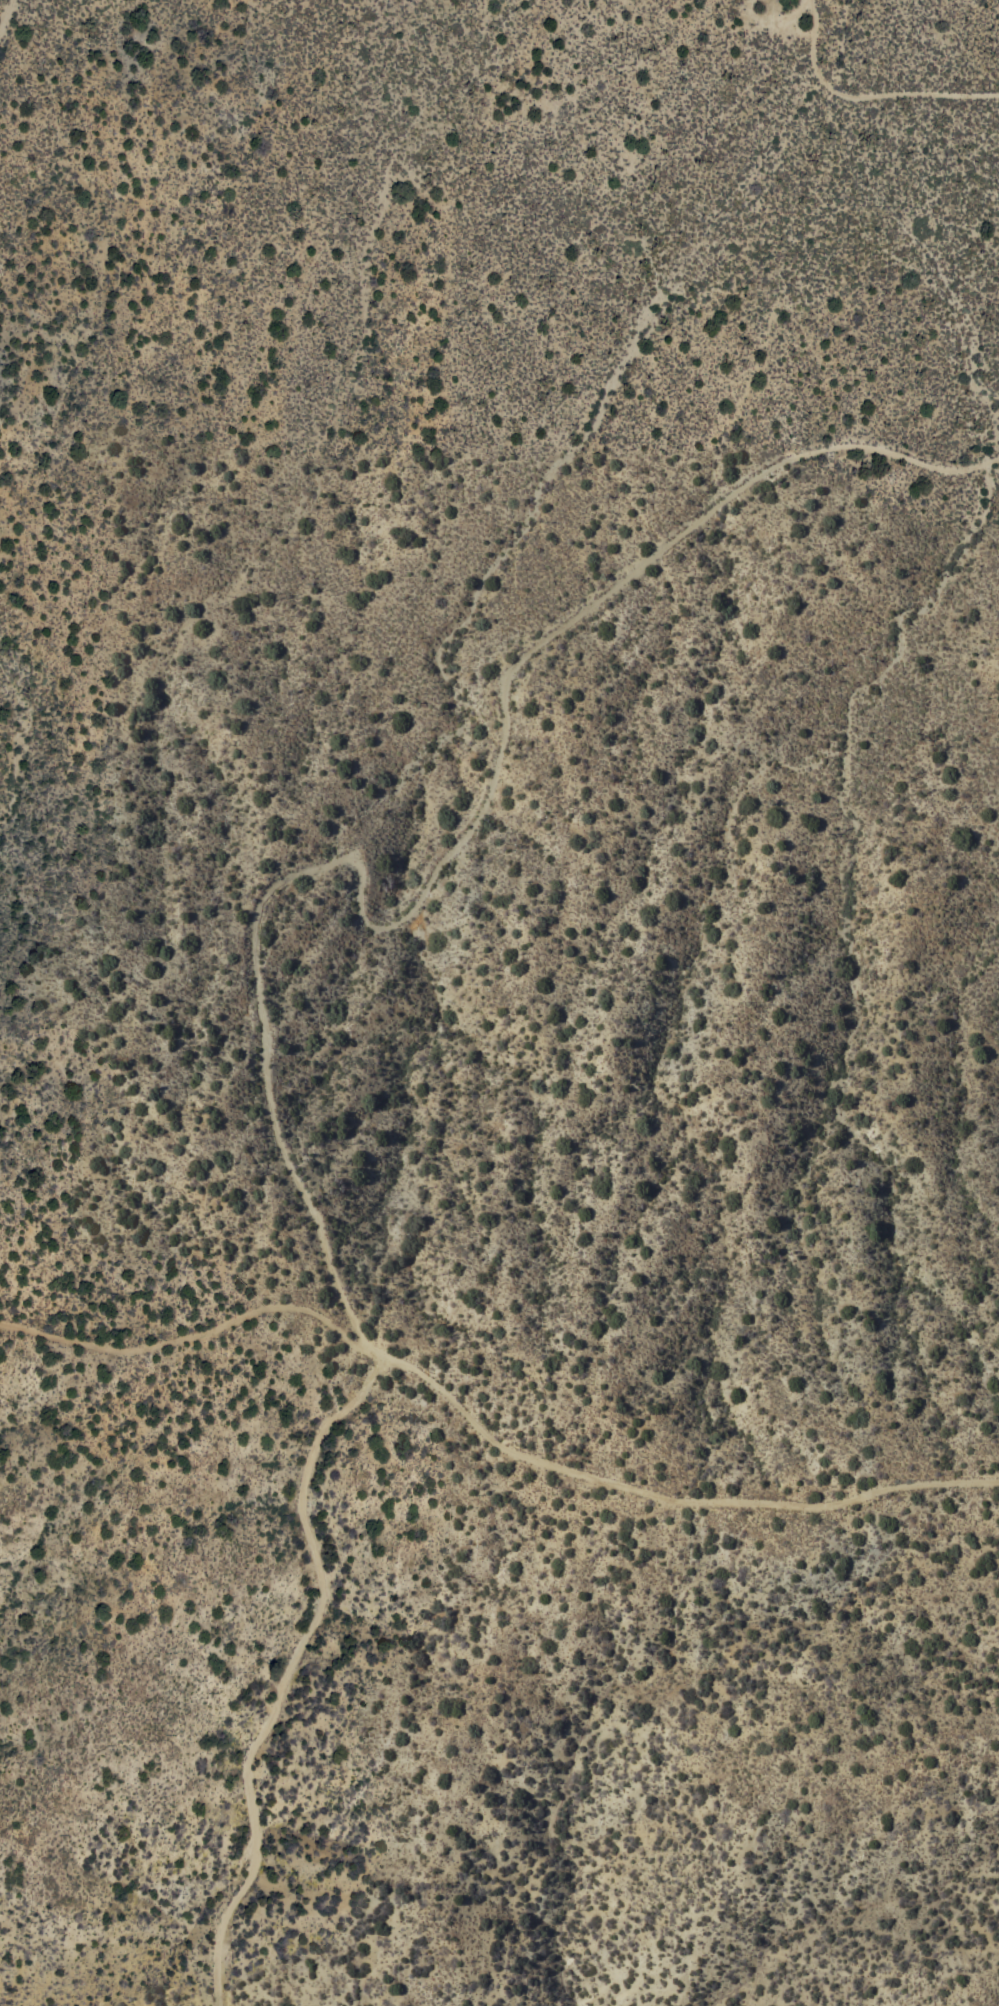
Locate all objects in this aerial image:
road: (197, 1764)

